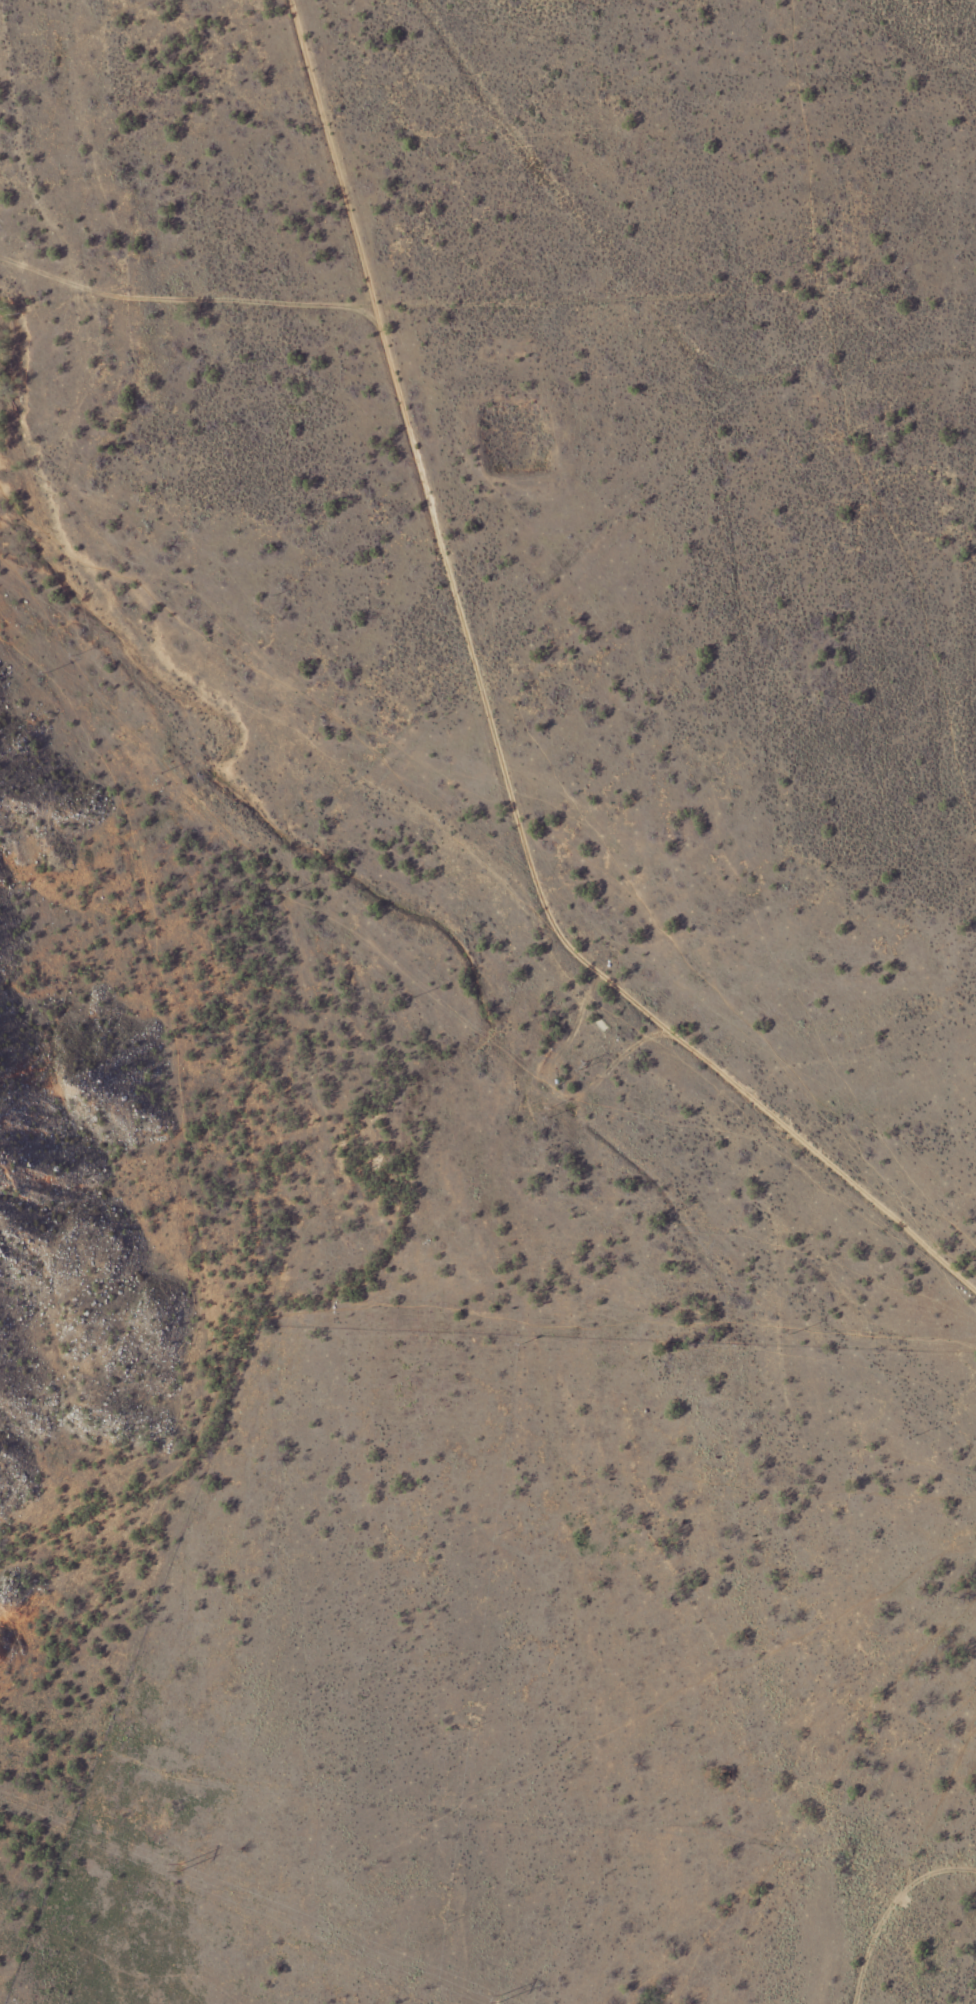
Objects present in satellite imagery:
power tower: (177, 1867)
power tower: (498, 1997)

